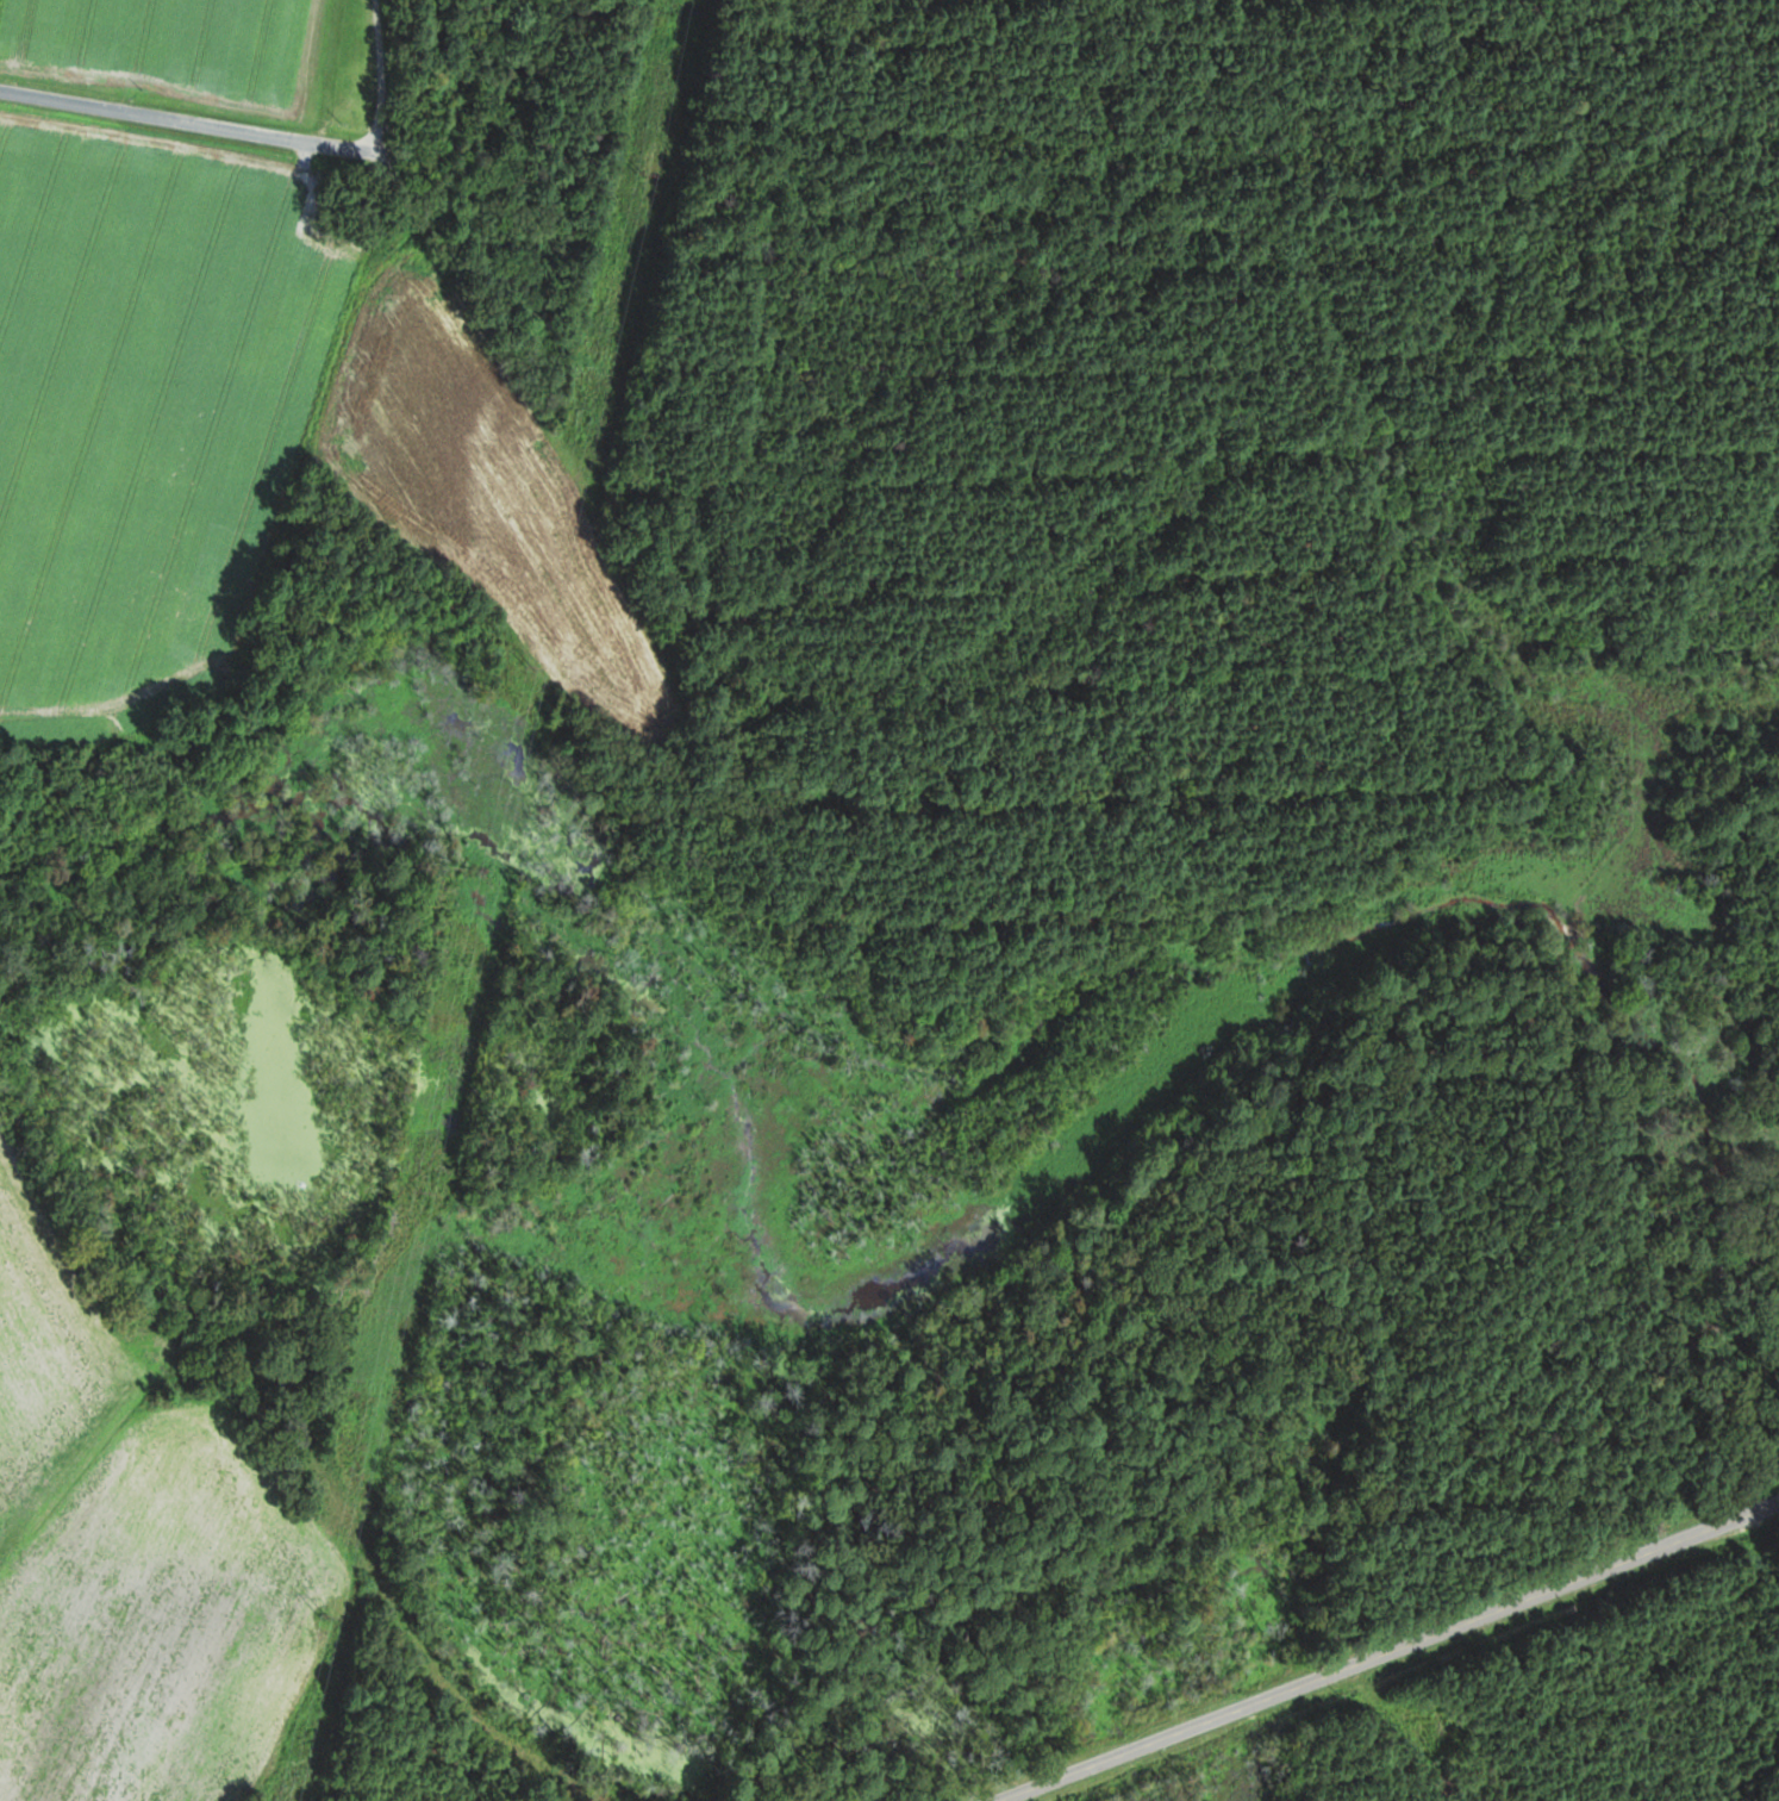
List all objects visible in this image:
road: (171, 118)
power tower: (645, 170)
power tower: (538, 669)
power tower: (424, 1190)
power tower: (331, 1609)
road: (1393, 1653)

